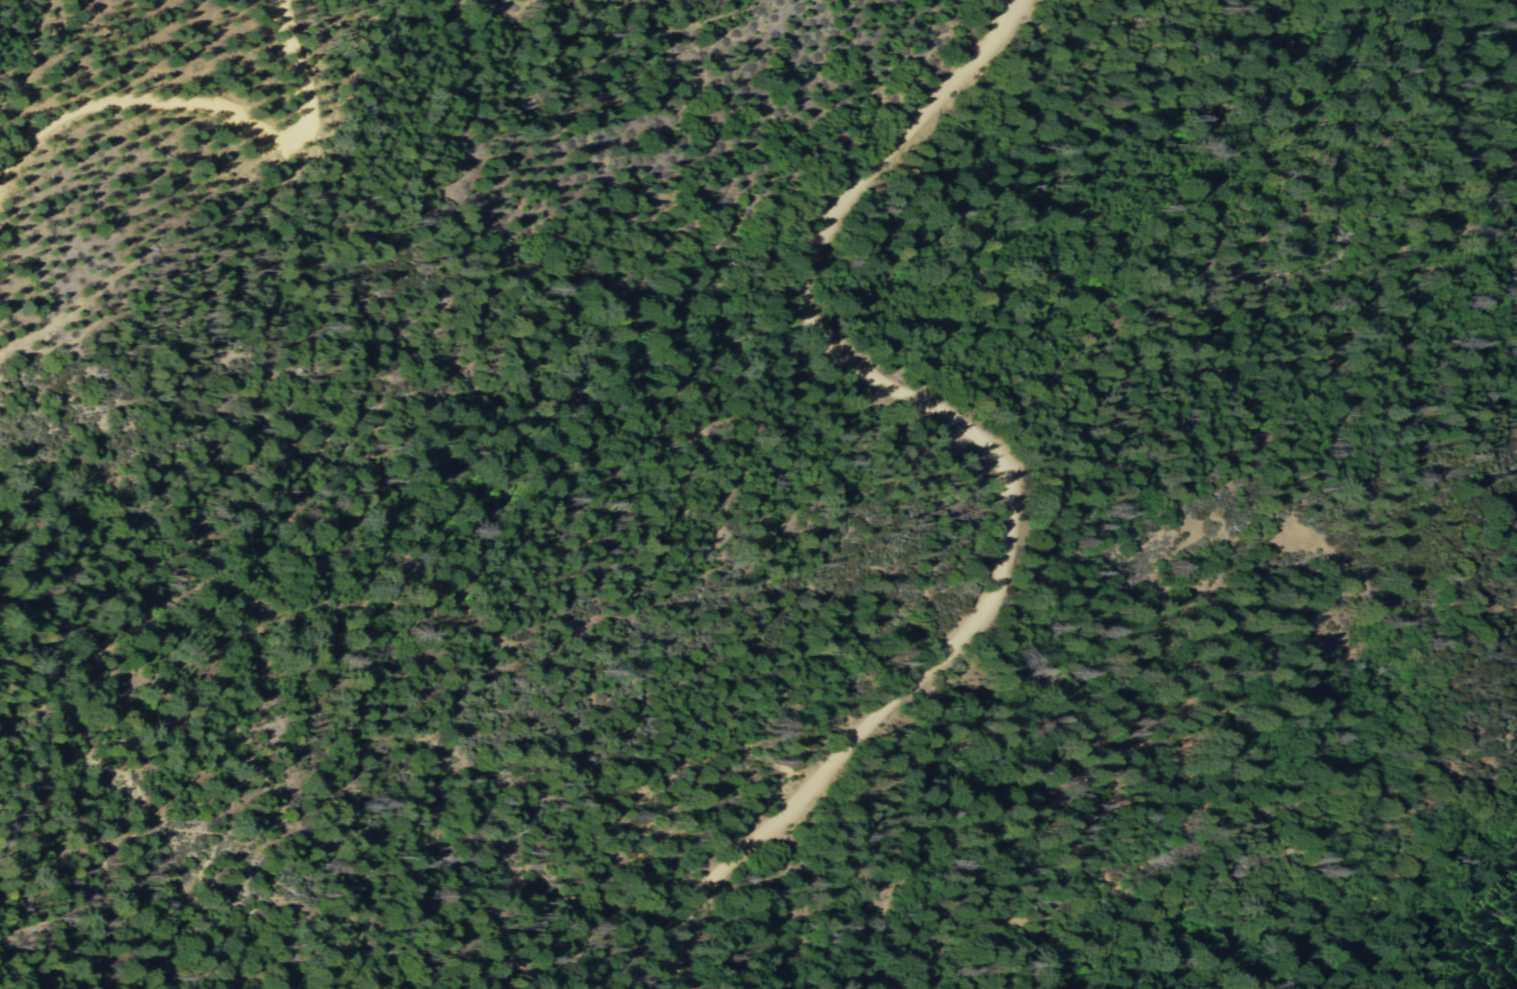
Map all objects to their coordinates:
road: (205, 111)
road: (996, 477)

